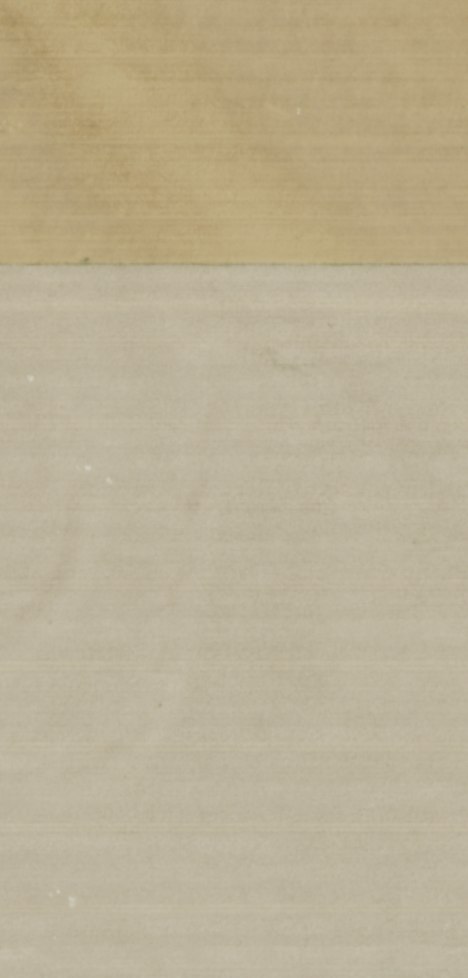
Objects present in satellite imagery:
crop: (234, 489)

